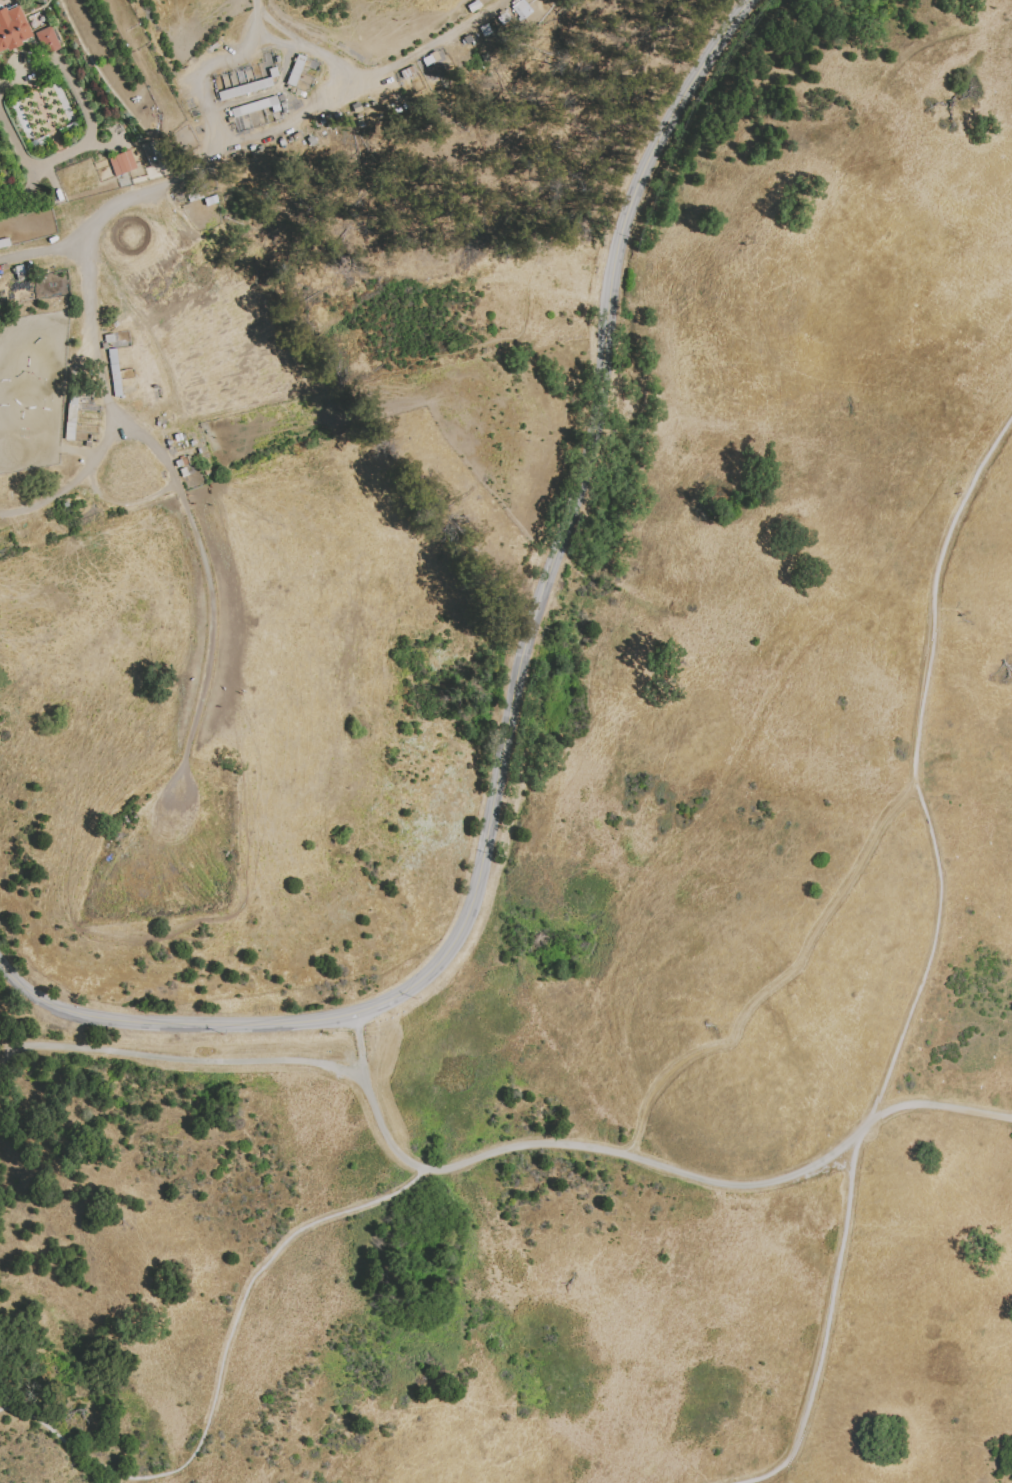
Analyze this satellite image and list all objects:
building: (520, 9)
building: (13, 34)
road: (301, 40)
building: (49, 41)
road: (279, 42)
road: (424, 46)
building: (467, 53)
building: (294, 70)
building: (298, 76)
building: (1, 79)
building: (243, 89)
building: (262, 110)
road: (288, 124)
road: (89, 135)
building: (121, 163)
road: (189, 168)
road: (17, 189)
building: (113, 372)
building: (72, 420)
building: (184, 475)
road: (77, 480)
road: (178, 489)
road: (124, 501)
road: (3, 513)
road: (513, 695)
road: (915, 785)
road: (777, 982)
road: (0, 1047)
road: (0, 1048)
road: (183, 1060)
road: (639, 1160)
road: (823, 1335)
road: (219, 1372)

